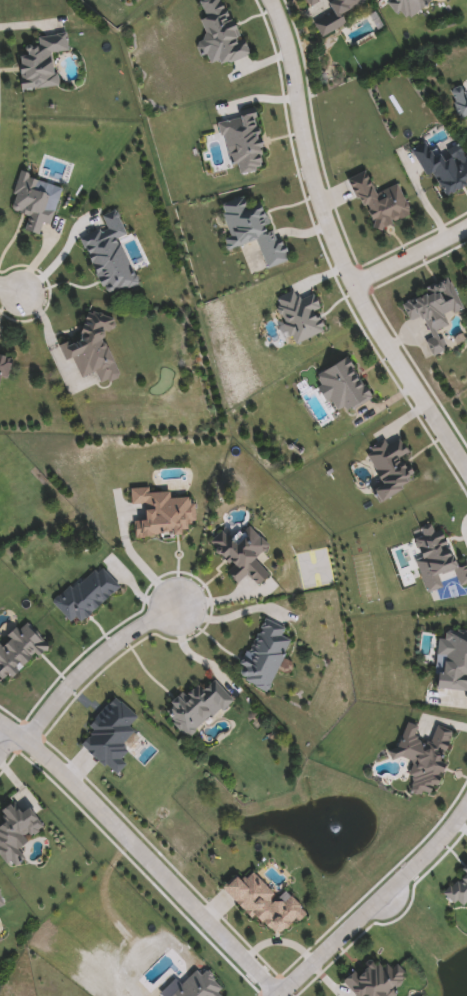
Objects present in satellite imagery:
building: (314, 2)
building: (337, 16)
building: (221, 35)
building: (42, 63)
building: (461, 102)
building: (243, 143)
building: (445, 167)
building: (33, 204)
building: (381, 204)
building: (252, 231)
road: (336, 249)
road: (410, 257)
building: (111, 261)
building: (466, 274)
road: (12, 292)
building: (433, 307)
building: (90, 354)
building: (4, 369)
building: (343, 387)
building: (393, 467)
building: (242, 554)
road: (138, 561)
road: (187, 653)
building: (265, 658)
road: (88, 664)
building: (200, 707)
road: (8, 743)
building: (16, 831)
road: (145, 854)
building: (1, 903)
road: (376, 903)
building: (266, 905)
building: (376, 980)

